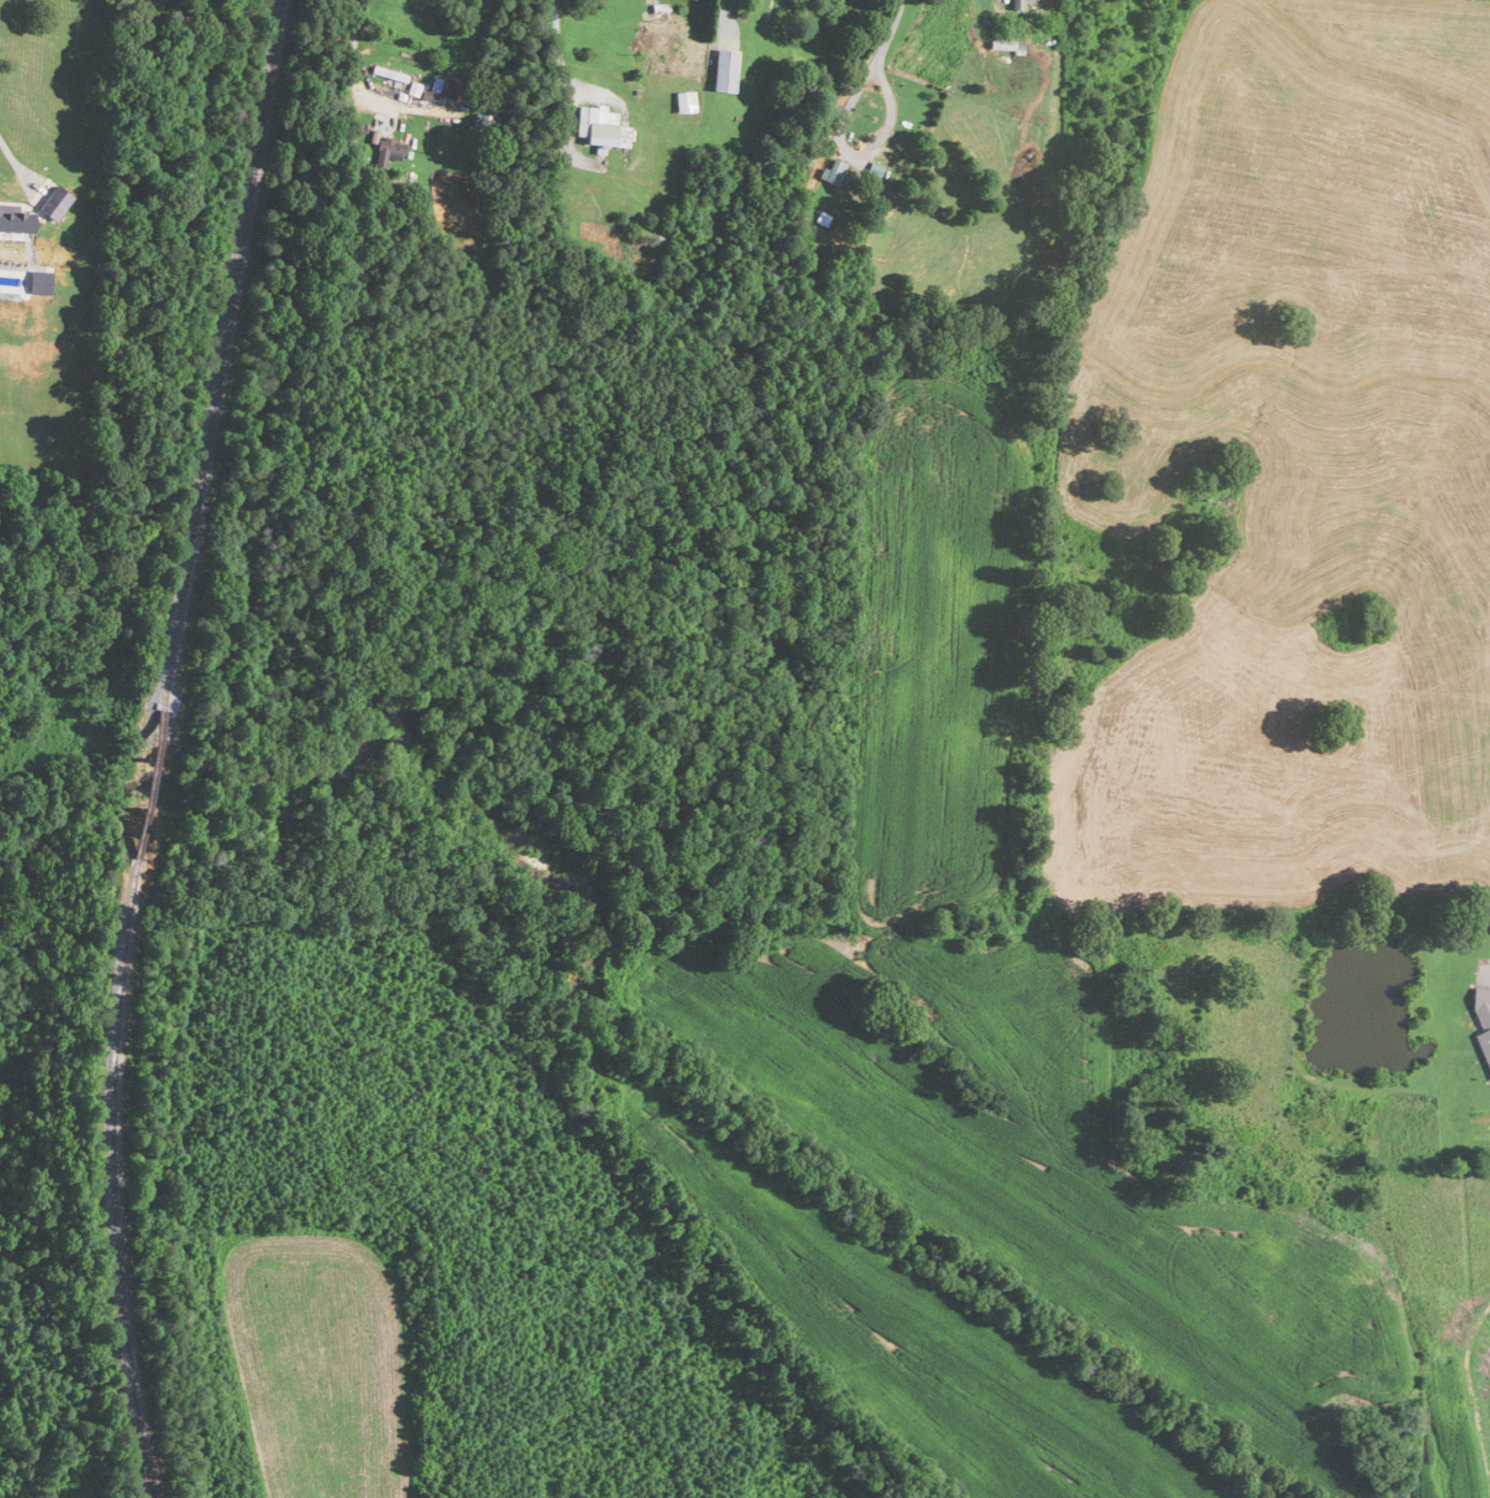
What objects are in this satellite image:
building: (1020, 4)
road: (721, 18)
road: (887, 31)
building: (1, 42)
building: (727, 70)
building: (391, 74)
road: (352, 79)
building: (450, 88)
building: (686, 99)
building: (485, 121)
building: (602, 127)
building: (389, 152)
road: (858, 154)
building: (831, 171)
building: (822, 219)
railway: (152, 747)
building: (1483, 1011)

